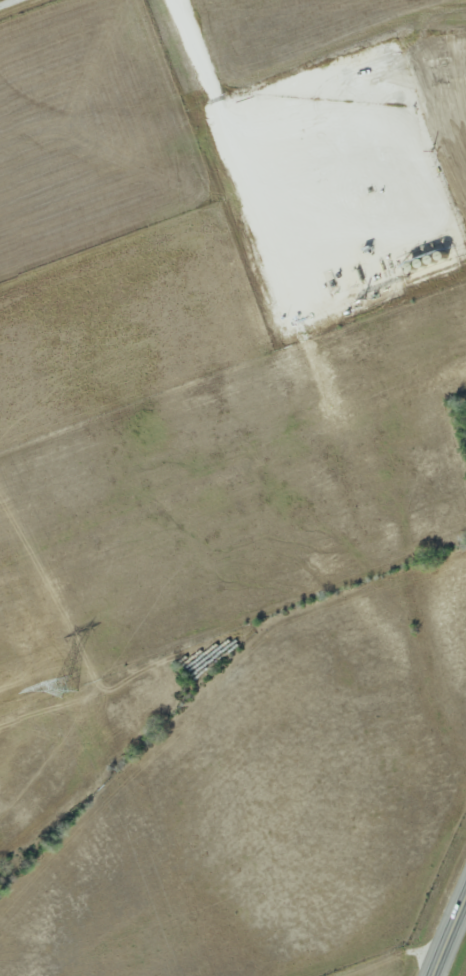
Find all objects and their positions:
road: (15, 5)
power tower: (63, 687)
road: (454, 947)

